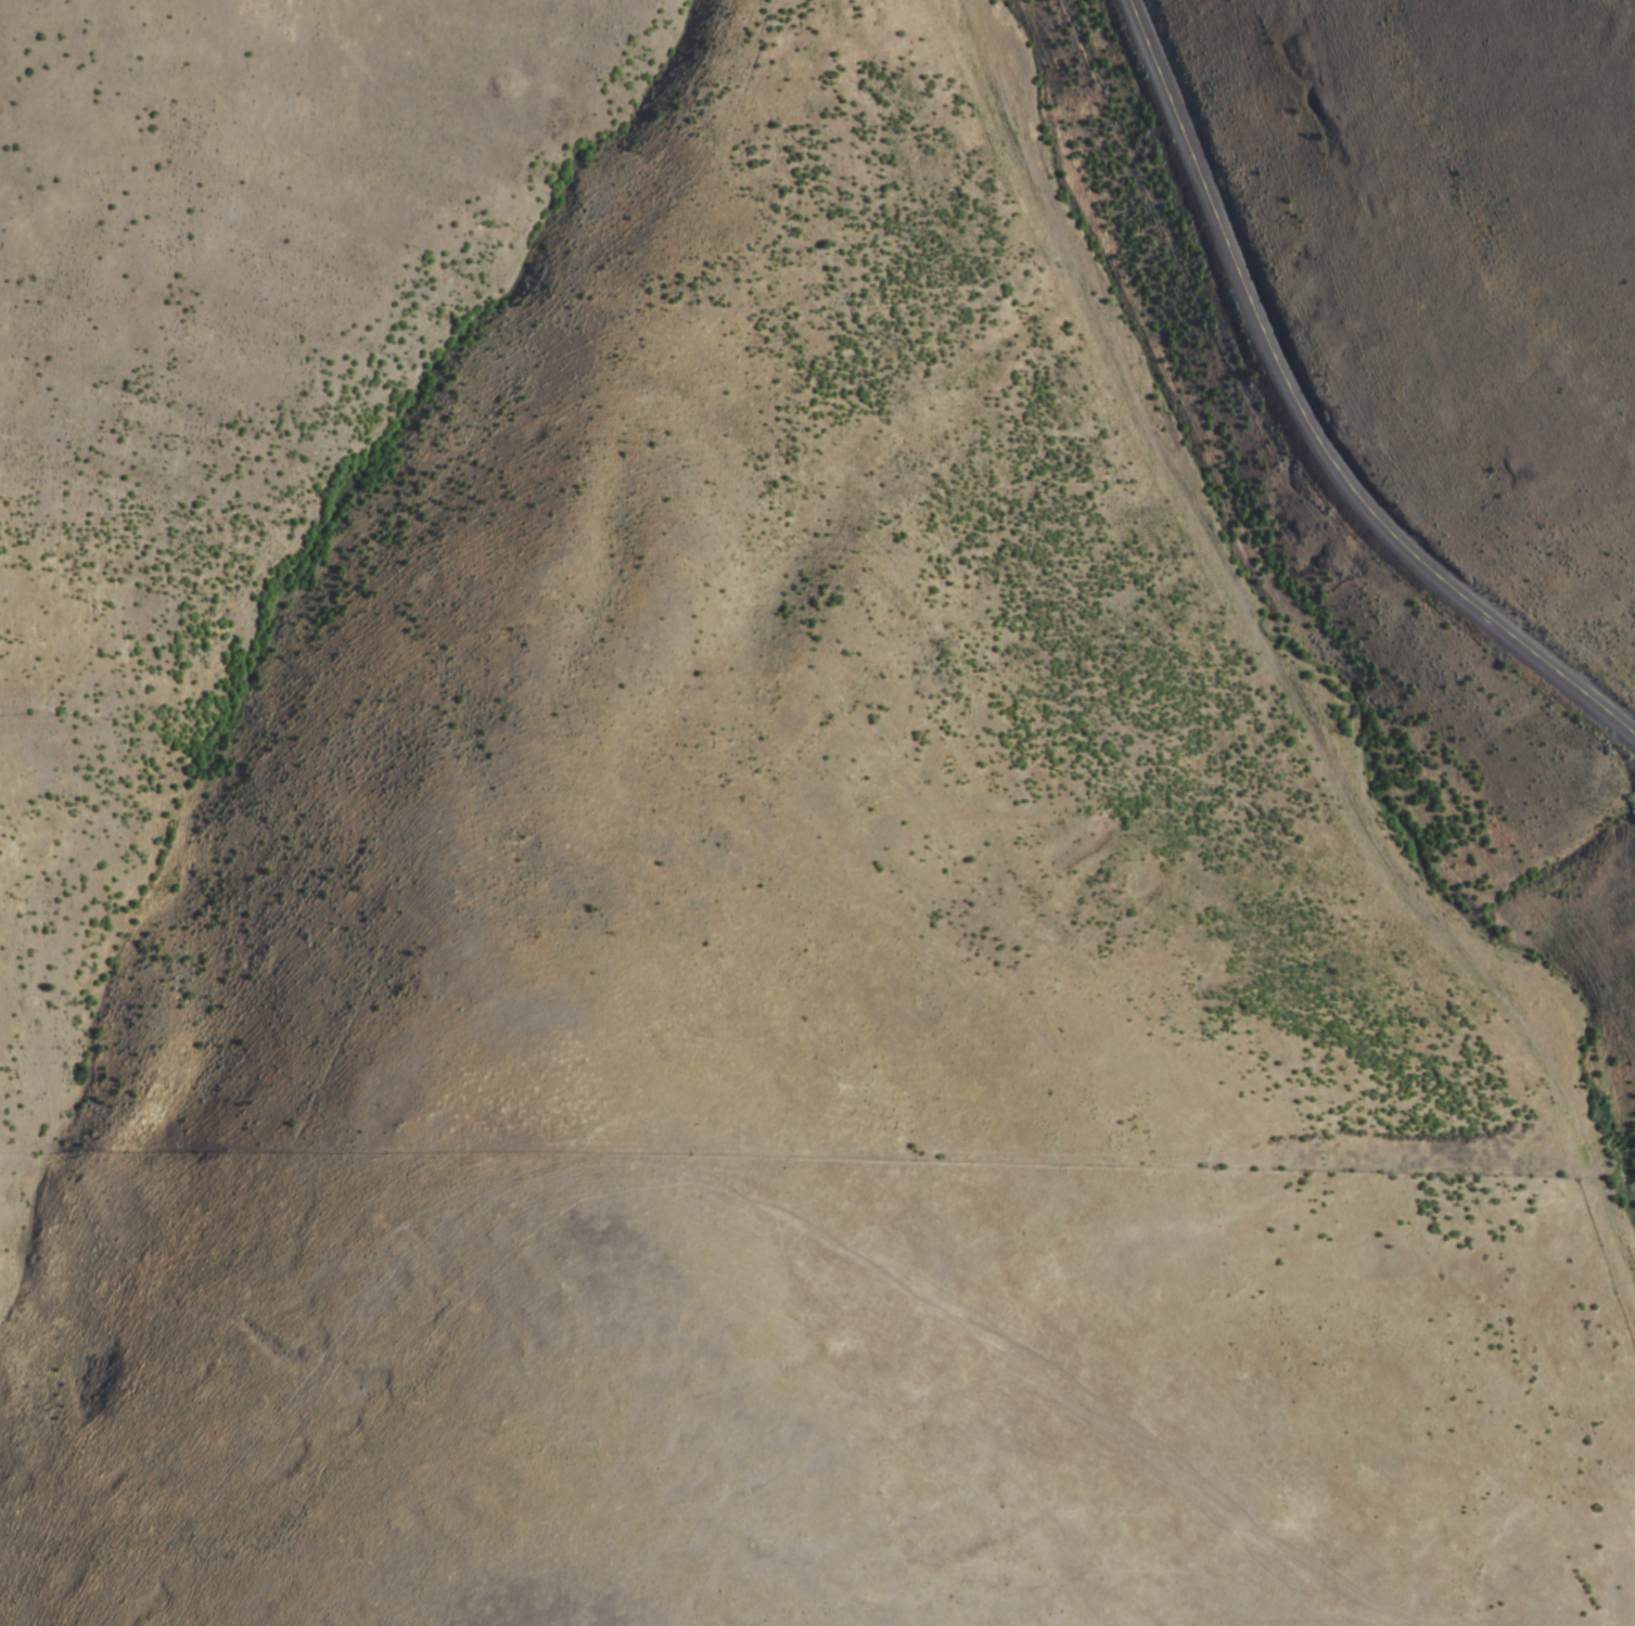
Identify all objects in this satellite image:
road: (1308, 422)

